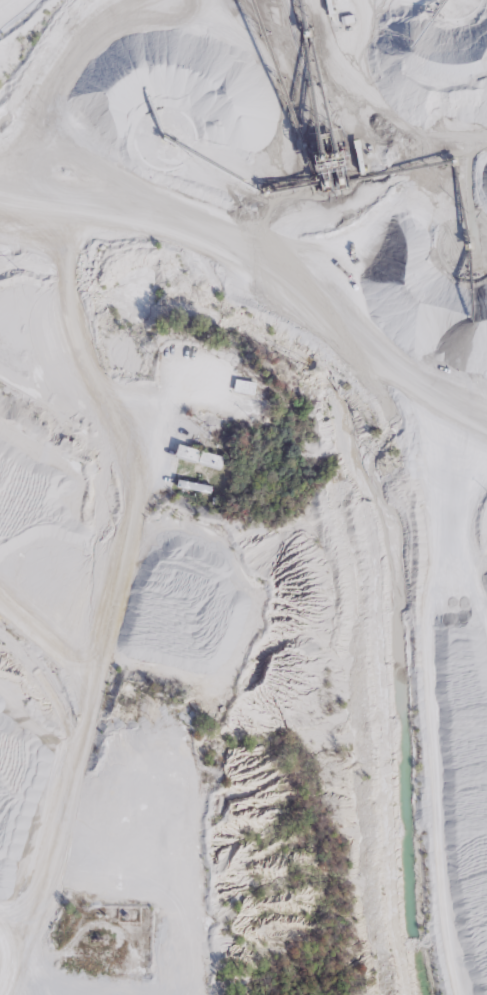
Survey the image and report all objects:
road: (239, 288)
building: (251, 387)
quarry: (242, 490)
road: (100, 597)

